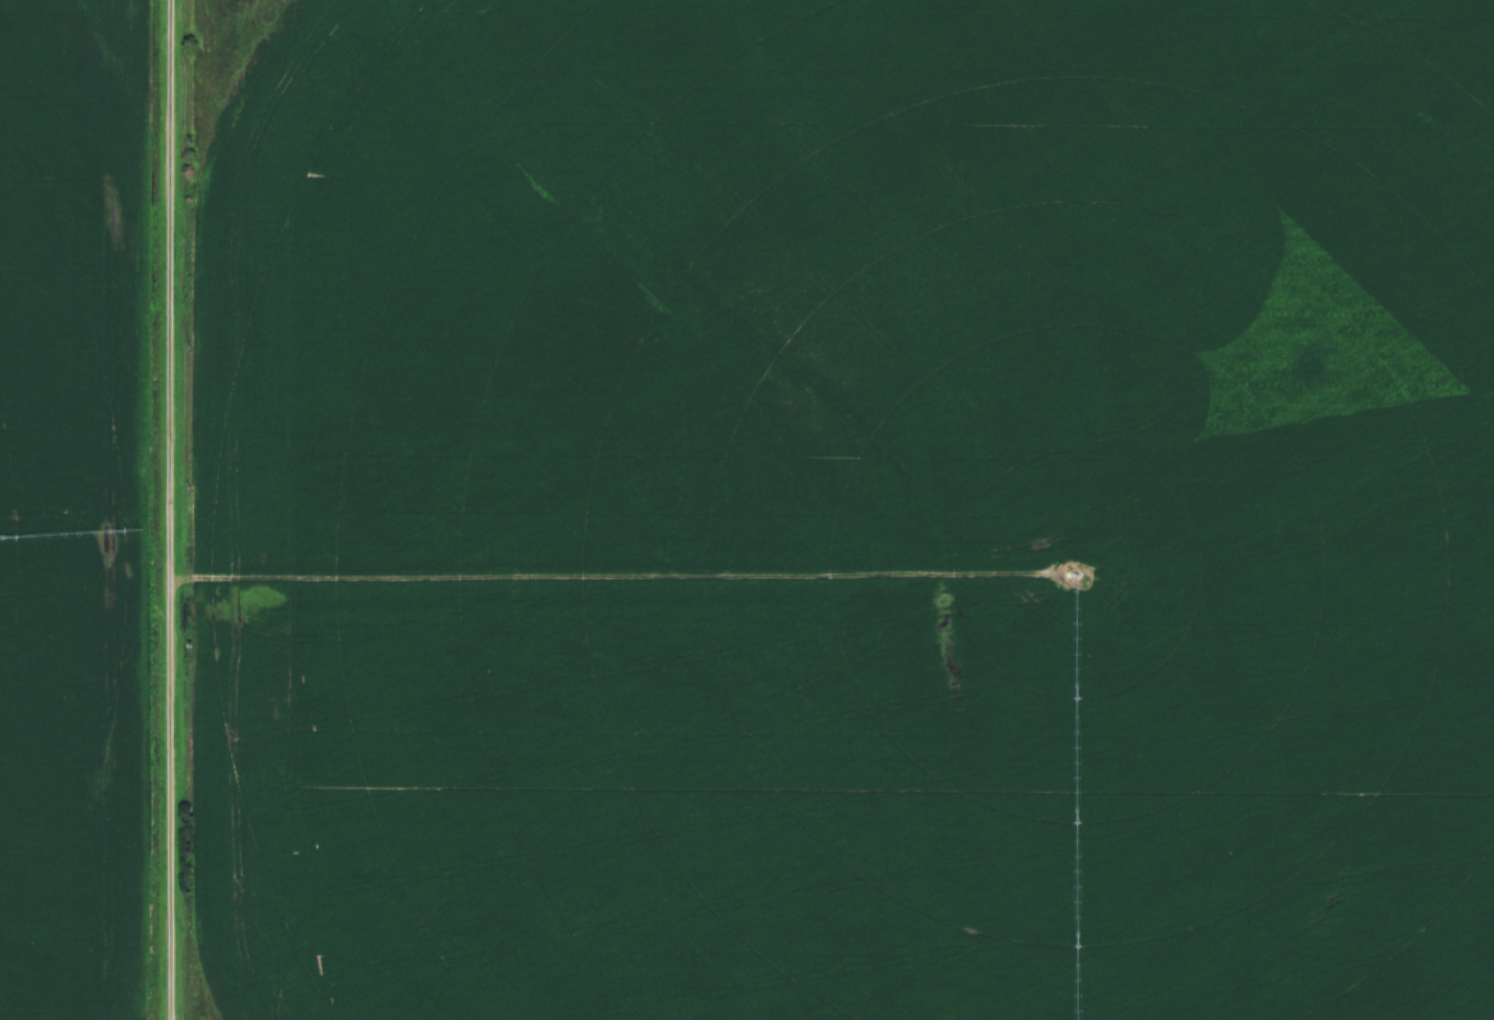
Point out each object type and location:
road: (169, 509)

